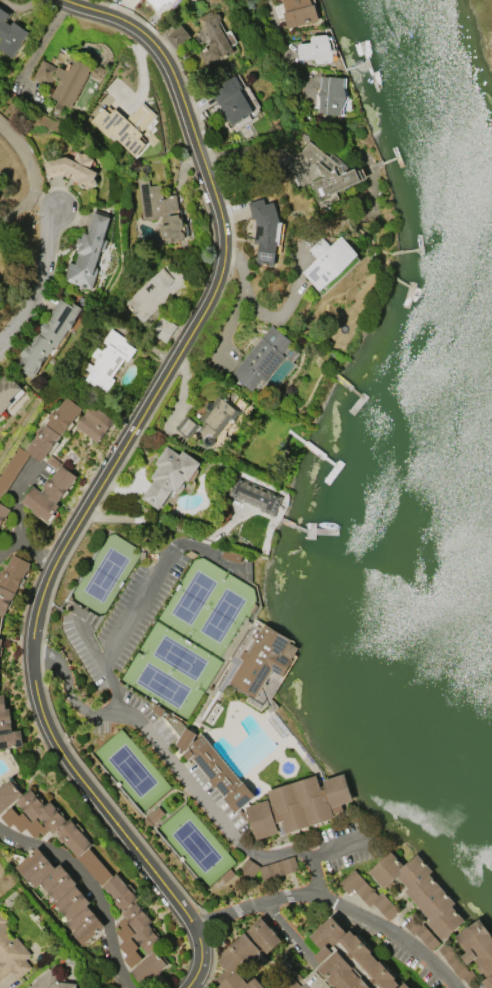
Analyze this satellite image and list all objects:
building: (164, 0)
building: (132, 2)
building: (299, 12)
building: (10, 35)
building: (177, 36)
building: (213, 38)
road: (284, 46)
building: (318, 48)
building: (45, 72)
building: (70, 80)
building: (331, 96)
building: (231, 99)
road: (184, 110)
building: (125, 126)
road: (26, 155)
building: (73, 169)
building: (329, 171)
road: (16, 210)
building: (161, 210)
building: (265, 229)
building: (88, 252)
building: (327, 259)
road: (38, 282)
building: (154, 290)
road: (237, 303)
road: (284, 307)
building: (47, 335)
building: (262, 357)
building: (107, 359)
building: (7, 391)
building: (216, 418)
building: (95, 422)
building: (187, 426)
building: (53, 428)
building: (10, 470)
building: (169, 475)
building: (58, 479)
building: (256, 495)
road: (14, 499)
building: (40, 503)
road: (90, 508)
building: (3, 512)
road: (170, 524)
road: (28, 550)
building: (11, 580)
park: (208, 609)
building: (0, 624)
road: (89, 638)
building: (0, 642)
building: (263, 660)
park: (169, 672)
road: (67, 689)
building: (7, 727)
building: (216, 768)
park: (131, 771)
road: (191, 785)
building: (8, 794)
building: (298, 804)
building: (154, 815)
building: (46, 822)
road: (340, 844)
park: (195, 847)
road: (144, 864)
building: (94, 866)
building: (249, 867)
building: (278, 868)
road: (91, 888)
building: (420, 891)
building: (118, 892)
building: (368, 893)
building: (62, 894)
road: (256, 908)
building: (135, 933)
building: (478, 948)
building: (11, 952)
building: (245, 955)
building: (349, 959)
building: (148, 967)
building: (51, 981)
building: (410, 987)

